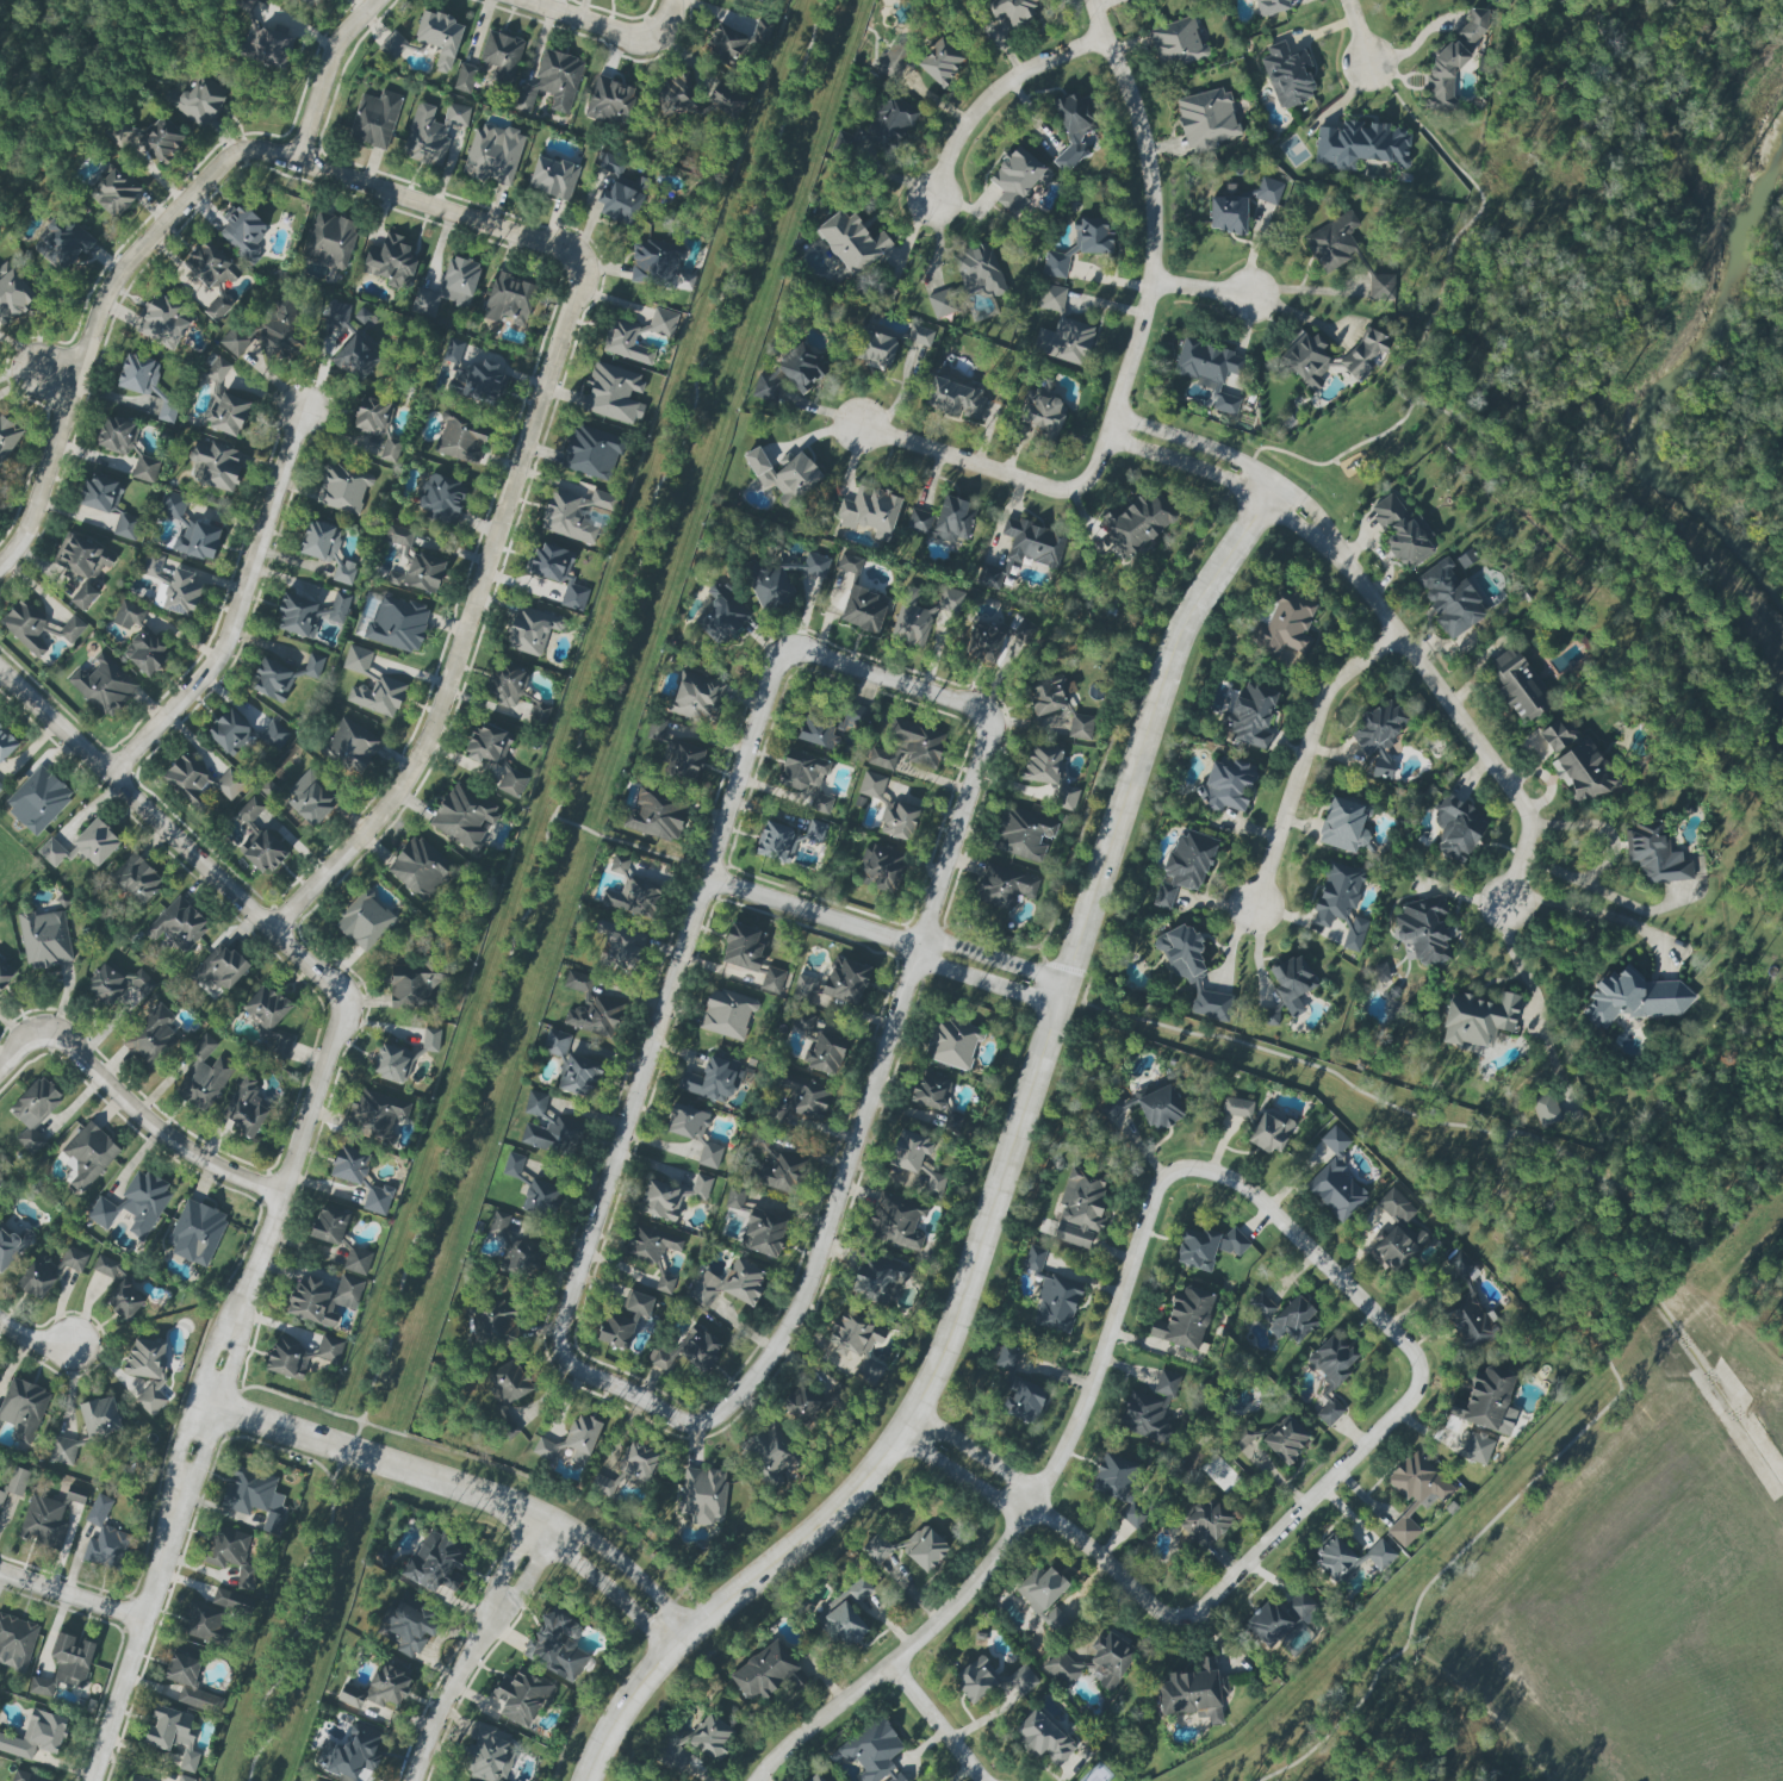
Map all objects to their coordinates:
building: (763, 0)
building: (310, 2)
building: (246, 6)
building: (1272, 6)
building: (1011, 12)
road: (603, 27)
road: (1355, 31)
building: (440, 36)
building: (1175, 44)
building: (393, 45)
building: (726, 45)
building: (267, 46)
building: (502, 55)
building: (894, 60)
building: (940, 61)
road: (325, 71)
building: (1287, 75)
building: (465, 77)
building: (552, 82)
road: (993, 92)
building: (675, 93)
building: (200, 100)
building: (726, 100)
building: (375, 119)
building: (1206, 119)
building: (890, 122)
building: (1074, 126)
building: (425, 137)
building: (161, 139)
building: (1360, 145)
building: (493, 154)
building: (553, 178)
building: (1018, 178)
building: (113, 191)
building: (620, 191)
building: (1268, 191)
road: (420, 198)
road: (1151, 212)
building: (1228, 214)
building: (243, 232)
road: (1455, 233)
building: (329, 241)
building: (1332, 242)
building: (61, 243)
building: (850, 243)
building: (1080, 245)
building: (391, 262)
building: (658, 267)
building: (212, 275)
building: (461, 279)
building: (968, 281)
building: (1381, 286)
road: (1201, 288)
building: (12, 292)
building: (1051, 298)
building: (509, 299)
building: (424, 301)
road: (98, 312)
building: (336, 313)
park: (1760, 313)
building: (365, 317)
building: (663, 322)
building: (162, 323)
building: (281, 328)
building: (920, 335)
building: (238, 338)
building: (1064, 341)
building: (626, 342)
river: (1545, 345)
building: (876, 349)
building: (453, 350)
building: (1365, 351)
building: (356, 359)
building: (1307, 359)
building: (218, 370)
building: (1210, 370)
building: (791, 373)
building: (138, 374)
road: (37, 376)
park: (1678, 380)
building: (478, 381)
building: (613, 392)
building: (953, 398)
building: (167, 411)
building: (226, 412)
building: (1043, 412)
building: (377, 424)
building: (116, 435)
building: (7, 437)
building: (461, 438)
building: (591, 453)
road: (964, 460)
road: (1094, 460)
road: (1764, 461)
road: (1238, 462)
building: (215, 463)
building: (145, 469)
building: (784, 475)
road: (1228, 480)
building: (342, 488)
building: (441, 497)
building: (110, 505)
building: (173, 505)
building: (870, 510)
building: (573, 515)
building: (944, 521)
building: (1138, 525)
building: (1402, 531)
building: (399, 537)
building: (197, 540)
building: (327, 549)
building: (1024, 550)
building: (79, 559)
building: (849, 563)
building: (815, 565)
building: (423, 573)
building: (558, 573)
building: (769, 585)
building: (174, 590)
road: (478, 596)
building: (83, 597)
building: (1449, 598)
road: (237, 609)
building: (862, 610)
building: (310, 612)
building: (129, 615)
building: (720, 615)
building: (397, 624)
building: (25, 627)
road: (1149, 627)
building: (1285, 628)
building: (72, 629)
building: (528, 629)
building: (1024, 631)
building: (984, 643)
building: (145, 652)
building: (281, 677)
road: (889, 679)
building: (386, 680)
building: (505, 684)
building: (104, 685)
building: (1518, 685)
building: (1048, 695)
building: (697, 696)
building: (1251, 714)
road: (1462, 723)
building: (830, 726)
building: (1081, 727)
building: (229, 733)
building: (274, 735)
building: (1555, 735)
building: (1379, 739)
building: (6, 743)
building: (352, 746)
building: (908, 747)
building: (495, 755)
road: (1306, 755)
building: (683, 762)
building: (1582, 772)
building: (1050, 774)
building: (806, 778)
building: (200, 783)
building: (871, 785)
building: (1228, 785)
building: (1, 787)
building: (38, 799)
building: (310, 799)
building: (464, 815)
building: (657, 815)
building: (897, 820)
building: (1344, 824)
building: (1458, 828)
building: (815, 832)
building: (1026, 832)
road: (173, 833)
building: (259, 839)
building: (776, 841)
building: (95, 842)
road: (627, 843)
building: (52, 852)
building: (1654, 854)
building: (619, 865)
building: (1186, 865)
building: (418, 868)
building: (882, 868)
building: (137, 879)
building: (1005, 885)
building: (634, 897)
road: (534, 898)
building: (1341, 903)
road: (1591, 911)
road: (812, 913)
building: (364, 920)
building: (178, 924)
building: (1423, 929)
building: (45, 939)
building: (621, 946)
building: (744, 947)
road: (994, 960)
road: (1518, 964)
building: (218, 970)
building: (1191, 971)
building: (772, 979)
building: (844, 980)
building: (1292, 982)
road: (987, 983)
building: (117, 984)
building: (412, 986)
building: (803, 986)
building: (1634, 998)
road: (663, 1001)
building: (591, 1008)
building: (727, 1014)
building: (1268, 1016)
building: (268, 1017)
building: (1478, 1019)
building: (151, 1036)
building: (430, 1040)
building: (555, 1042)
building: (952, 1044)
building: (825, 1053)
road: (1275, 1053)
building: (392, 1063)
building: (578, 1075)
building: (203, 1077)
building: (713, 1079)
road: (874, 1089)
building: (932, 1090)
building: (36, 1101)
building: (246, 1107)
building: (536, 1107)
building: (1160, 1107)
building: (1237, 1108)
building: (1545, 1109)
road: (133, 1110)
building: (377, 1114)
building: (688, 1121)
building: (1271, 1132)
building: (549, 1135)
building: (31, 1141)
building: (88, 1154)
building: (710, 1156)
building: (918, 1162)
building: (350, 1165)
building: (512, 1165)
building: (775, 1167)
road: (1004, 1178)
building: (1335, 1179)
building: (1, 1182)
building: (541, 1197)
building: (671, 1197)
building: (735, 1197)
building: (378, 1200)
building: (133, 1204)
road: (1669, 1208)
building: (1080, 1209)
building: (896, 1221)
building: (499, 1222)
building: (329, 1225)
building: (195, 1232)
building: (763, 1233)
building: (1397, 1233)
road: (1298, 1238)
building: (12, 1246)
building: (1206, 1246)
building: (521, 1257)
building: (356, 1260)
building: (107, 1266)
building: (49, 1271)
building: (877, 1279)
building: (729, 1284)
building: (1052, 1295)
building: (124, 1299)
building: (323, 1299)
building: (1262, 1306)
building: (1467, 1307)
building: (1184, 1319)
building: (1294, 1319)
building: (625, 1320)
building: (496, 1321)
road: (32, 1339)
road: (1105, 1343)
building: (859, 1344)
building: (329, 1349)
building: (689, 1349)
building: (290, 1358)
building: (1331, 1374)
building: (149, 1375)
building: (510, 1382)
road: (629, 1390)
road: (217, 1391)
building: (1023, 1401)
building: (1487, 1401)
building: (802, 1403)
road: (1602, 1406)
building: (23, 1409)
building: (1150, 1409)
building: (99, 1418)
building: (1242, 1437)
building: (582, 1438)
building: (1286, 1438)
building: (1476, 1447)
building: (547, 1450)
building: (62, 1451)
building: (771, 1453)
road: (975, 1455)
road: (381, 1461)
building: (636, 1462)
road: (963, 1476)
building: (1418, 1480)
building: (17, 1481)
building: (1120, 1487)
building: (1, 1494)
building: (76, 1494)
building: (703, 1495)
building: (255, 1497)
road: (574, 1500)
road: (1309, 1501)
building: (43, 1522)
building: (1204, 1522)
building: (1406, 1524)
building: (105, 1538)
building: (231, 1555)
road: (511, 1555)
road: (1101, 1557)
building: (1349, 1558)
building: (434, 1563)
road: (532, 1568)
road: (627, 1569)
road: (608, 1589)
building: (1044, 1595)
road: (70, 1596)
building: (234, 1601)
building: (844, 1615)
building: (1280, 1618)
building: (200, 1620)
building: (408, 1627)
building: (15, 1642)
building: (557, 1646)
road: (906, 1655)
building: (1094, 1662)
building: (64, 1665)
building: (766, 1674)
building: (977, 1680)
building: (1023, 1680)
building: (190, 1683)
building: (380, 1688)
road: (451, 1688)
building: (1194, 1692)
road: (588, 1694)
road: (938, 1723)
building: (172, 1735)
building: (36, 1736)
building: (1044, 1737)
building: (710, 1738)
building: (874, 1751)
building: (489, 1754)
building: (673, 1754)
building: (353, 1755)
building: (26, 1776)
building: (815, 1777)
building: (139, 1779)
building: (185, 1779)

